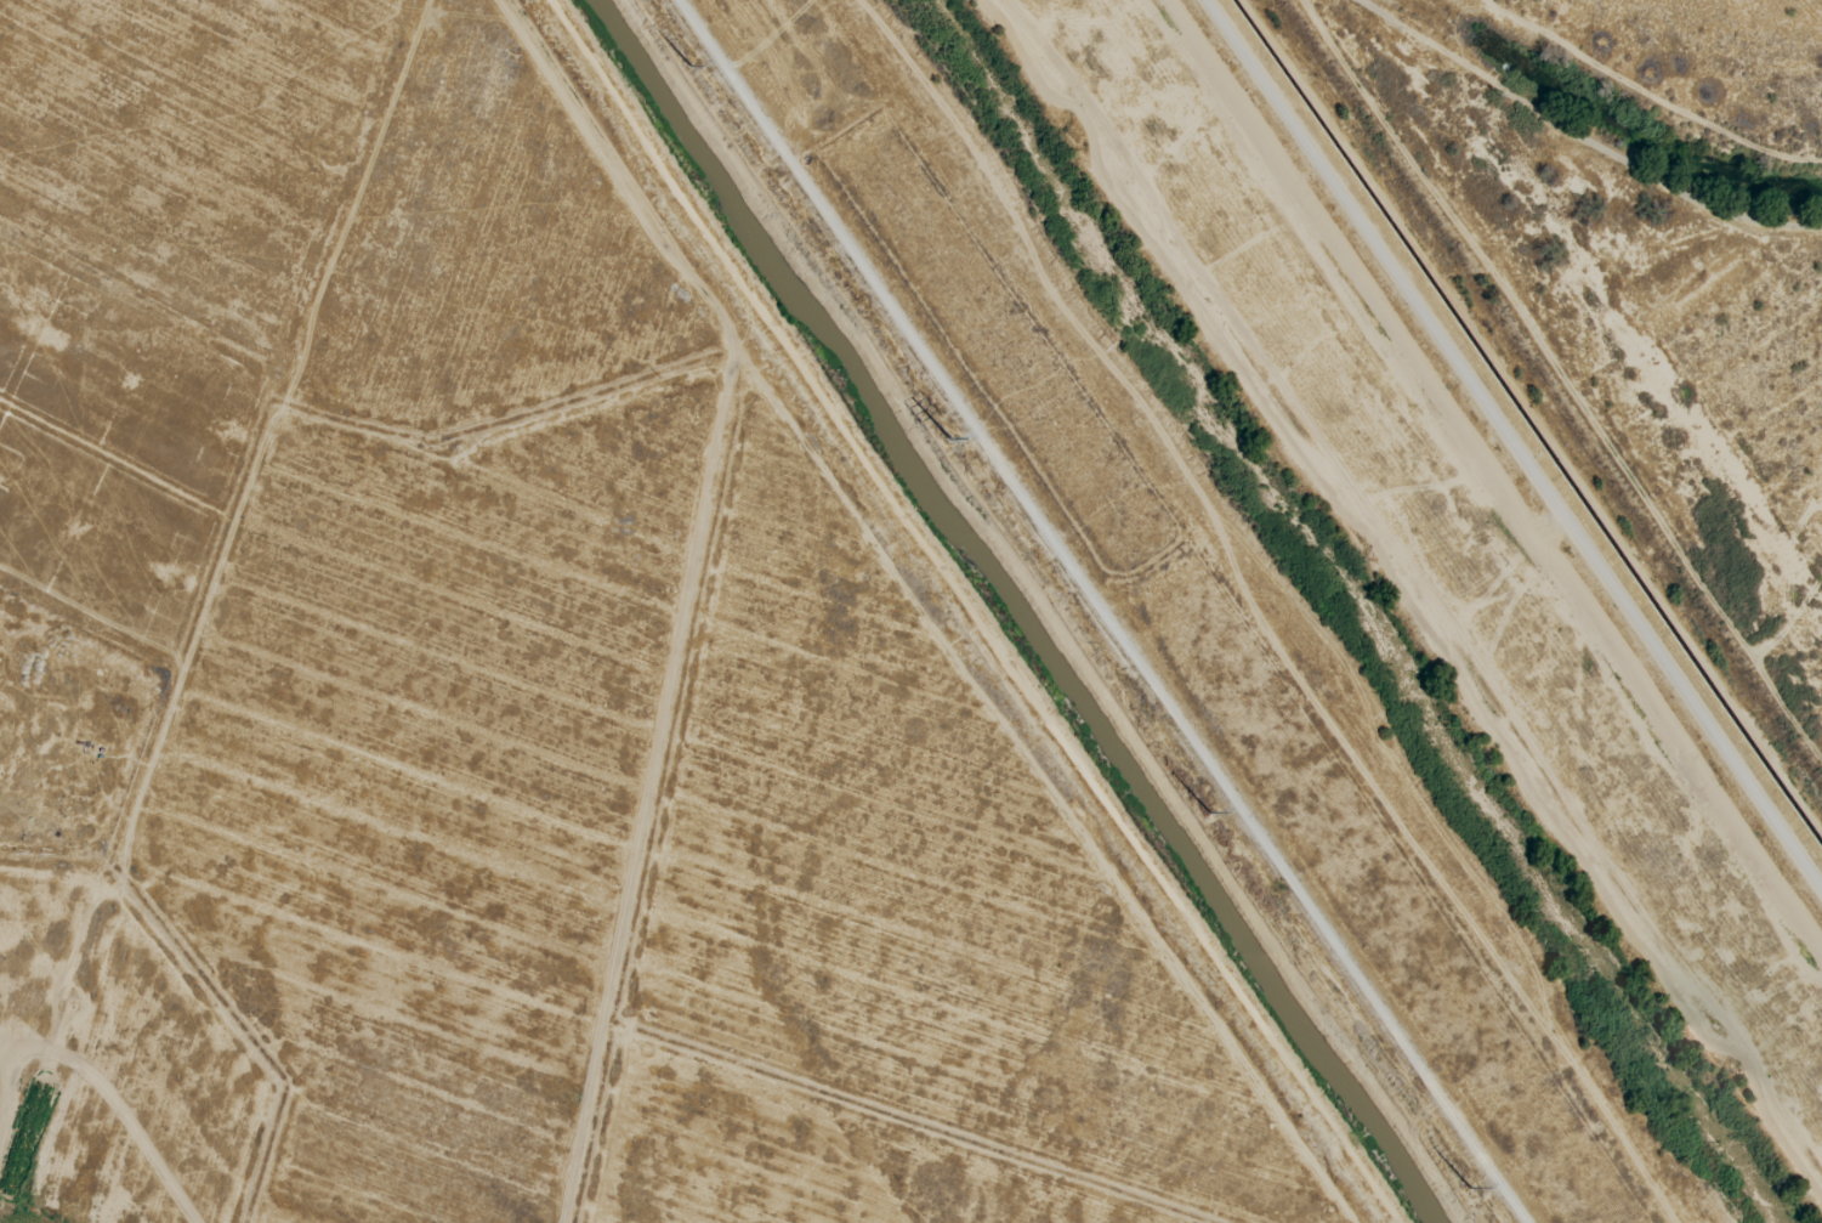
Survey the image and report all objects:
power tower: (689, 62)
power tower: (941, 436)
river: (1363, 607)
road: (964, 610)
road: (1099, 611)
power tower: (1199, 809)
road: (100, 1091)
power tower: (1461, 1185)

